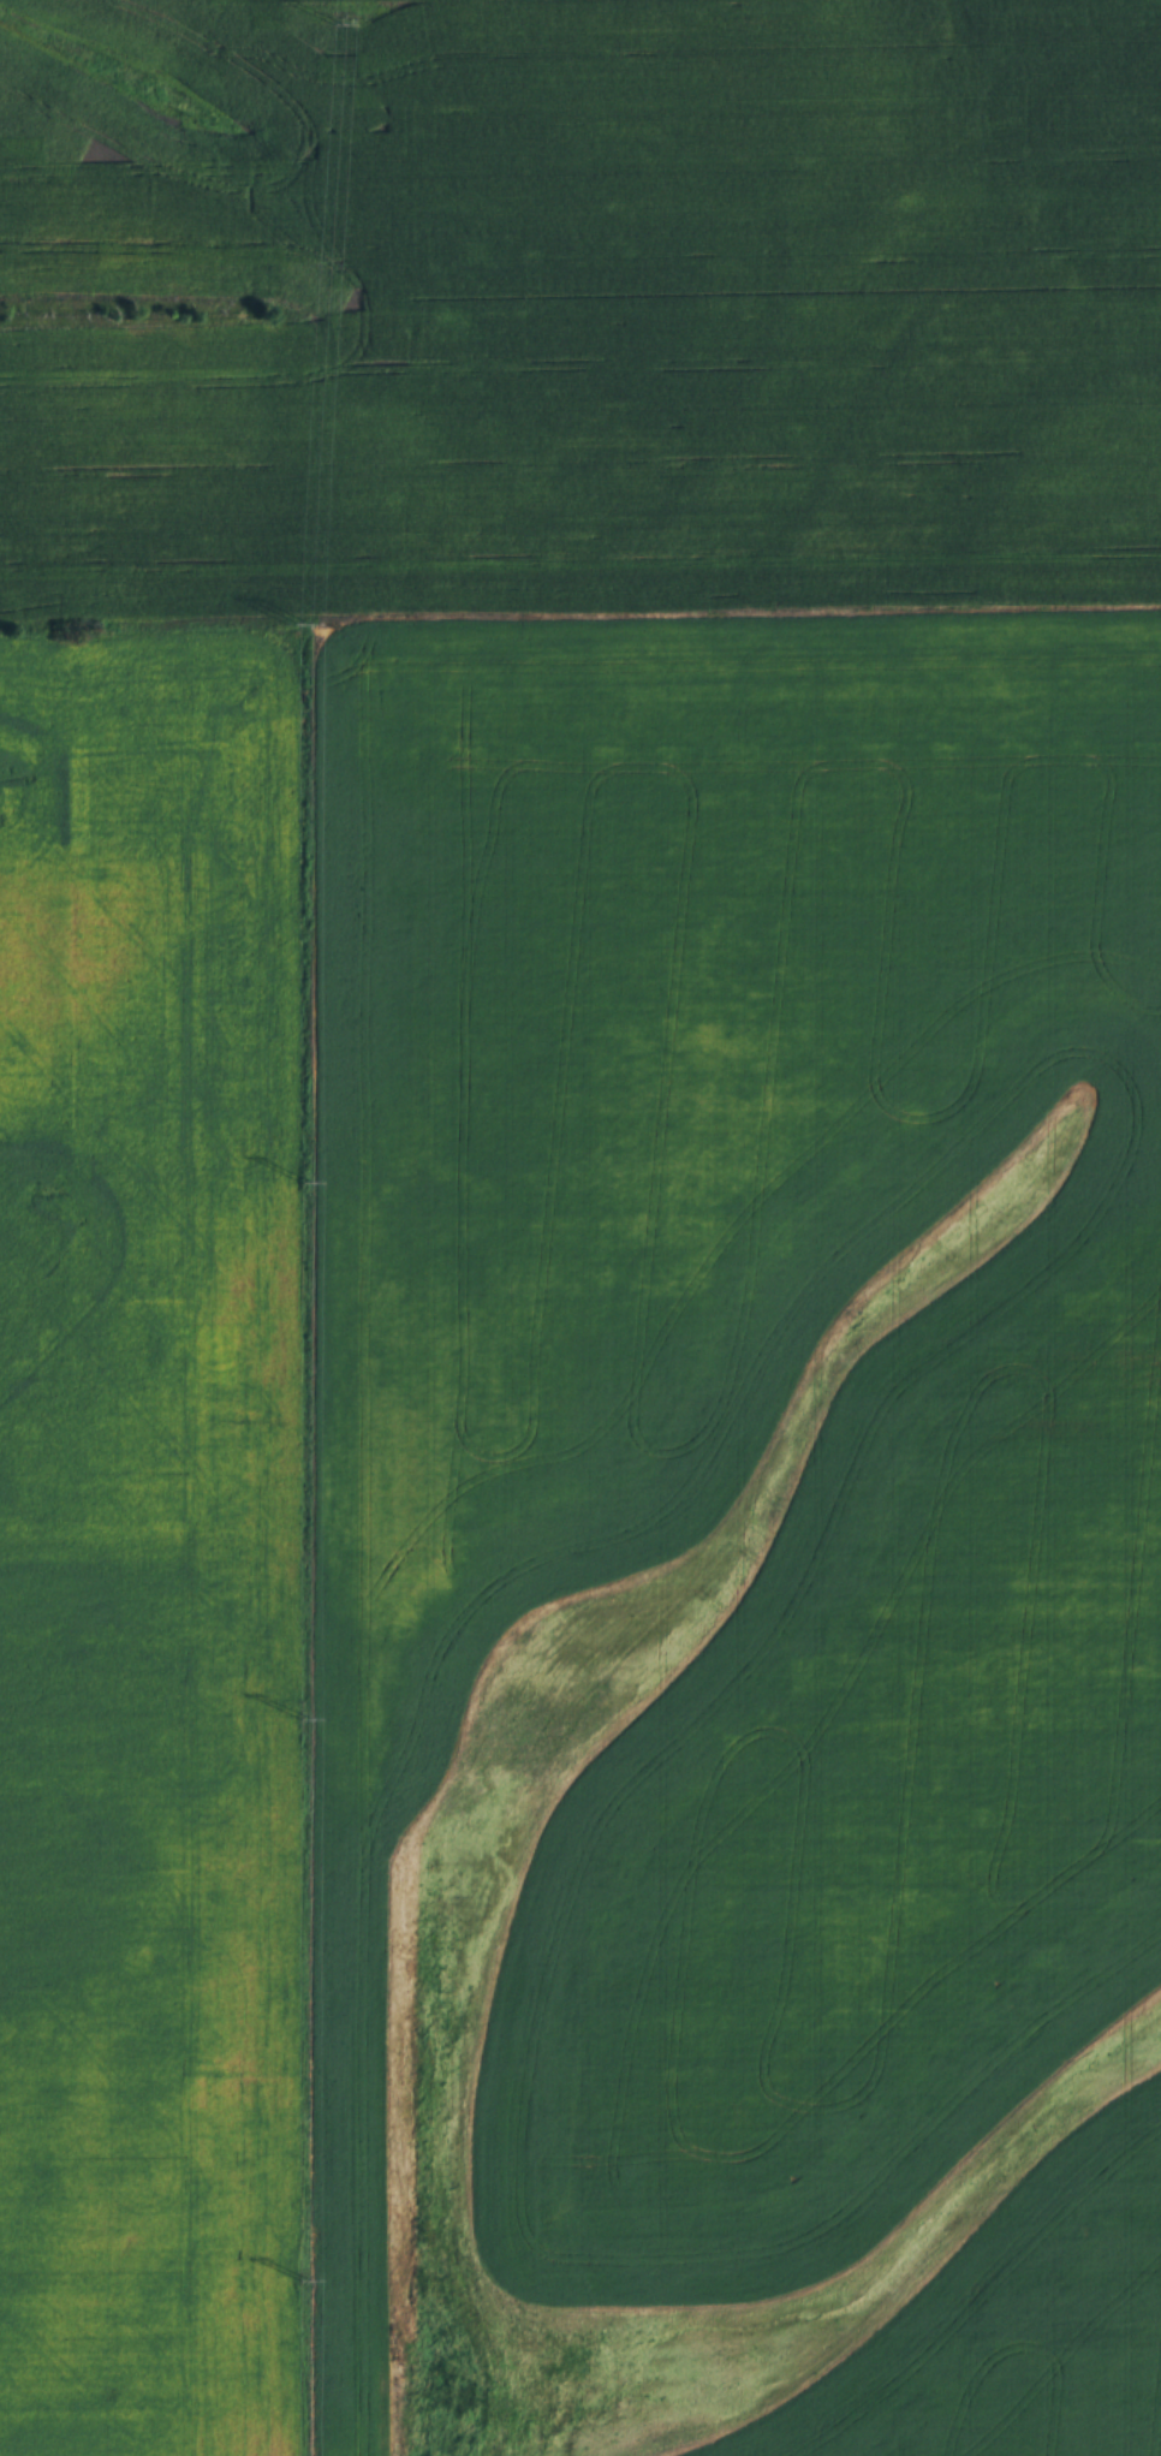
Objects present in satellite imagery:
power tower: (337, 26)
power tower: (297, 626)
power tower: (304, 1184)
power tower: (304, 1720)
power tower: (304, 2280)

